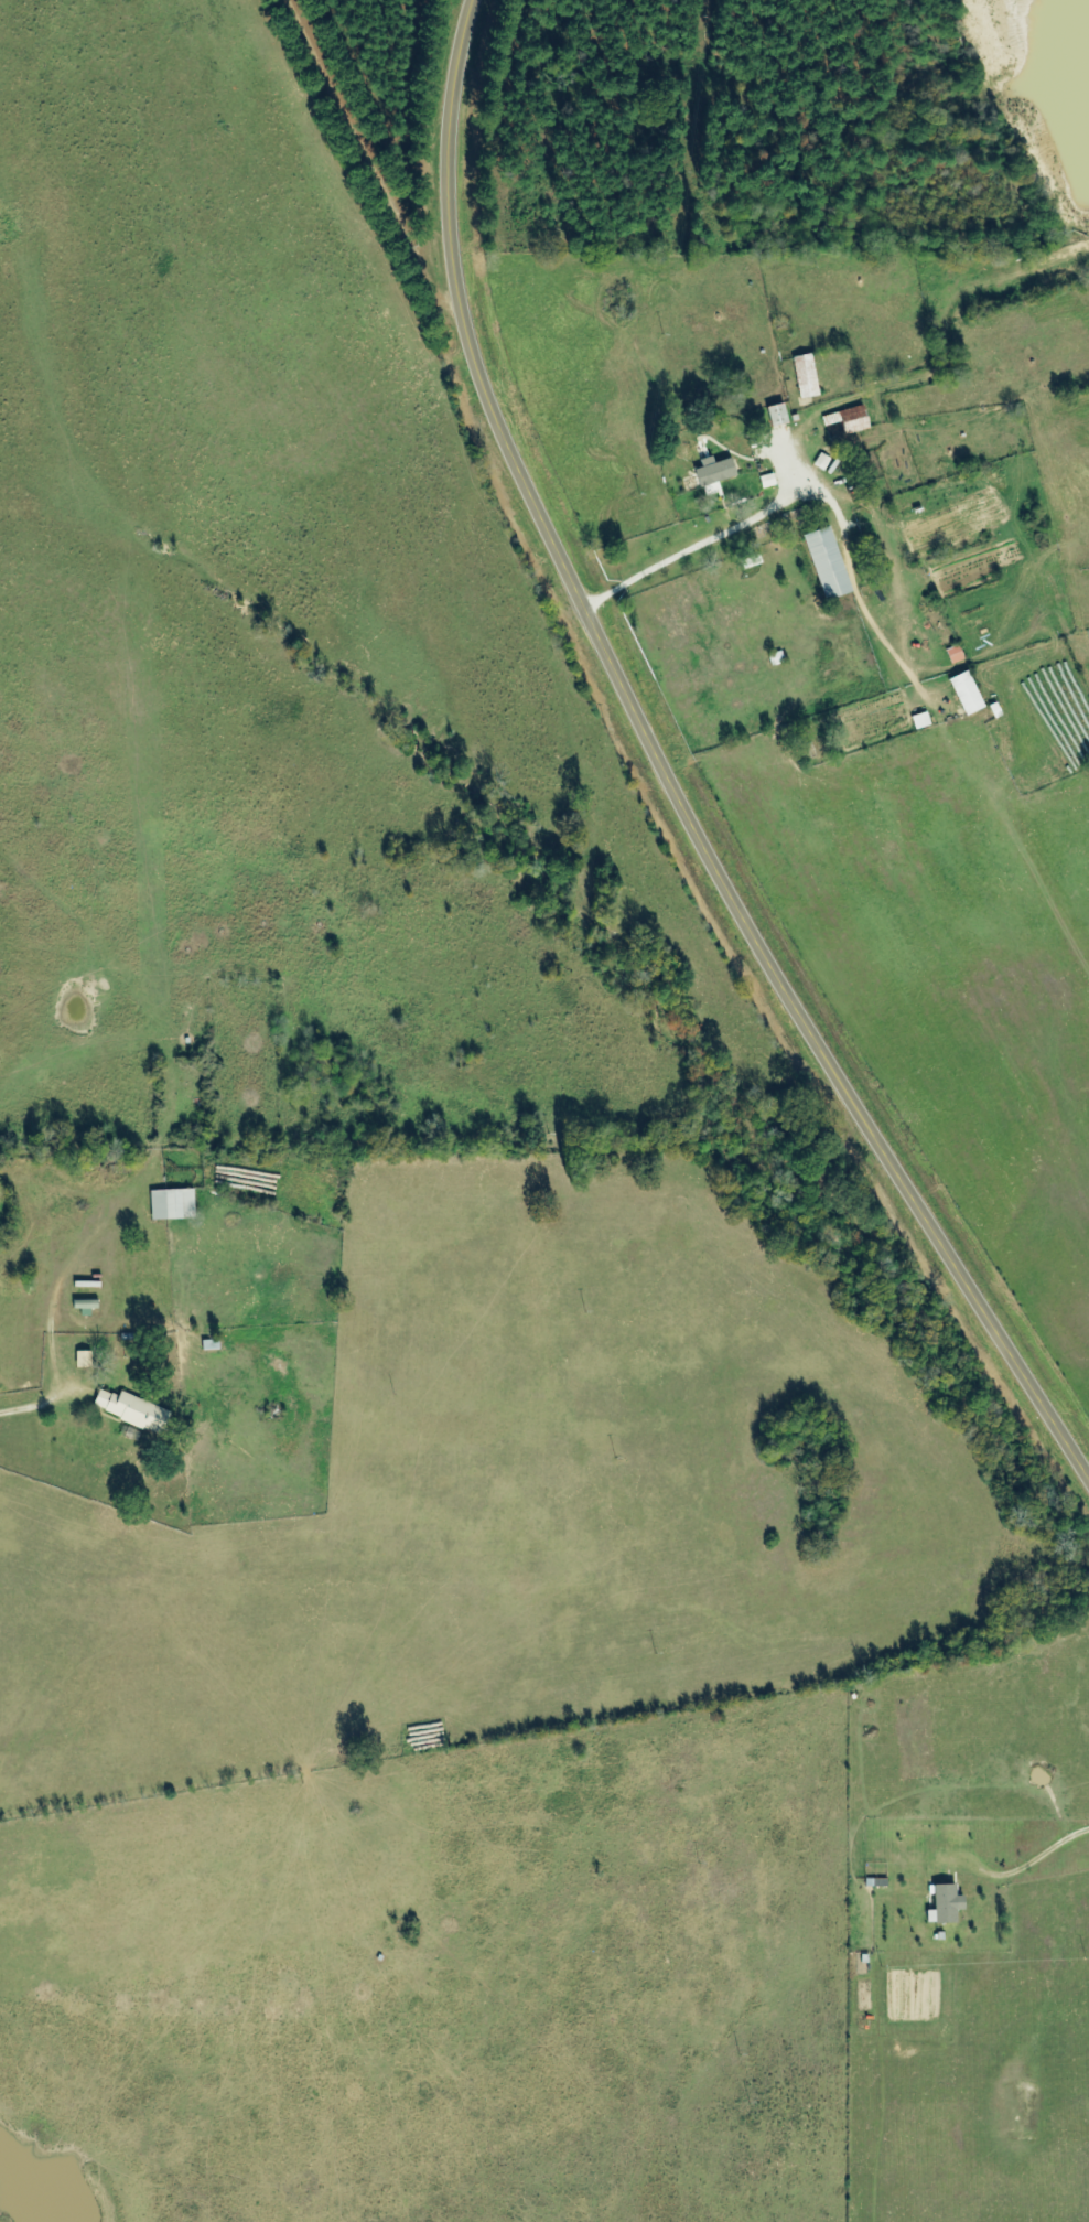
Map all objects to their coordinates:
road: (473, 10)
building: (805, 376)
building: (776, 415)
building: (848, 419)
building: (713, 471)
building: (767, 480)
building: (826, 563)
building: (955, 654)
building: (966, 693)
building: (920, 720)
road: (677, 771)
building: (172, 1204)
road: (67, 1355)
building: (83, 1360)
building: (131, 1410)
building: (945, 1904)

